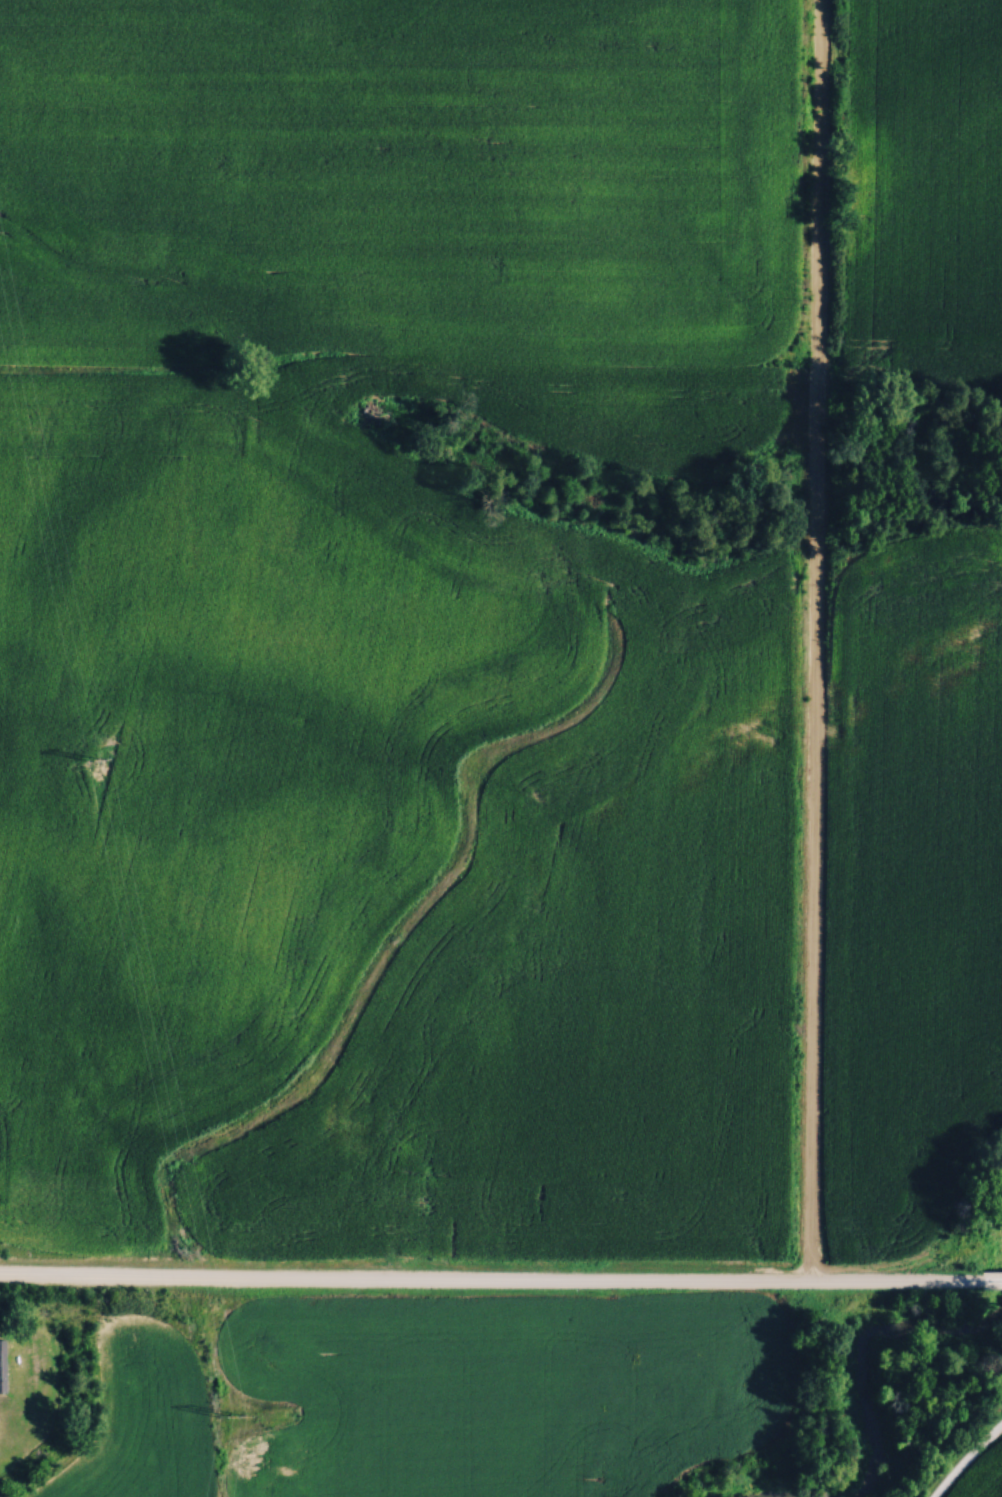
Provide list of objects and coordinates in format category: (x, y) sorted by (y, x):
road: (817, 638)
power tower: (95, 764)
road: (491, 1277)
road: (992, 1279)
building: (2, 1364)
building: (662, 1388)
power tower: (226, 1416)
road: (968, 1463)

